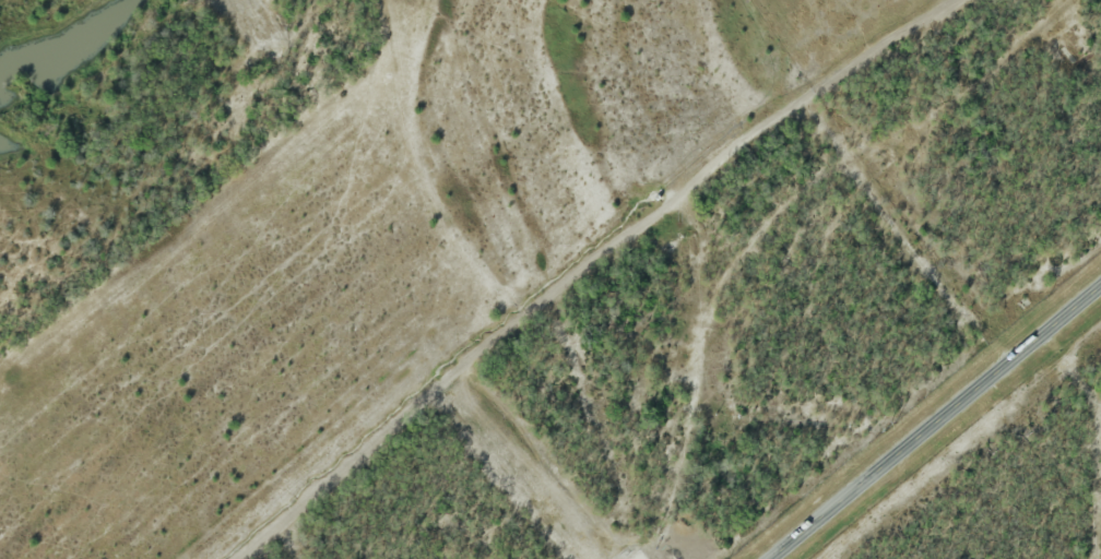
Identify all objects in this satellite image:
road: (938, 425)

